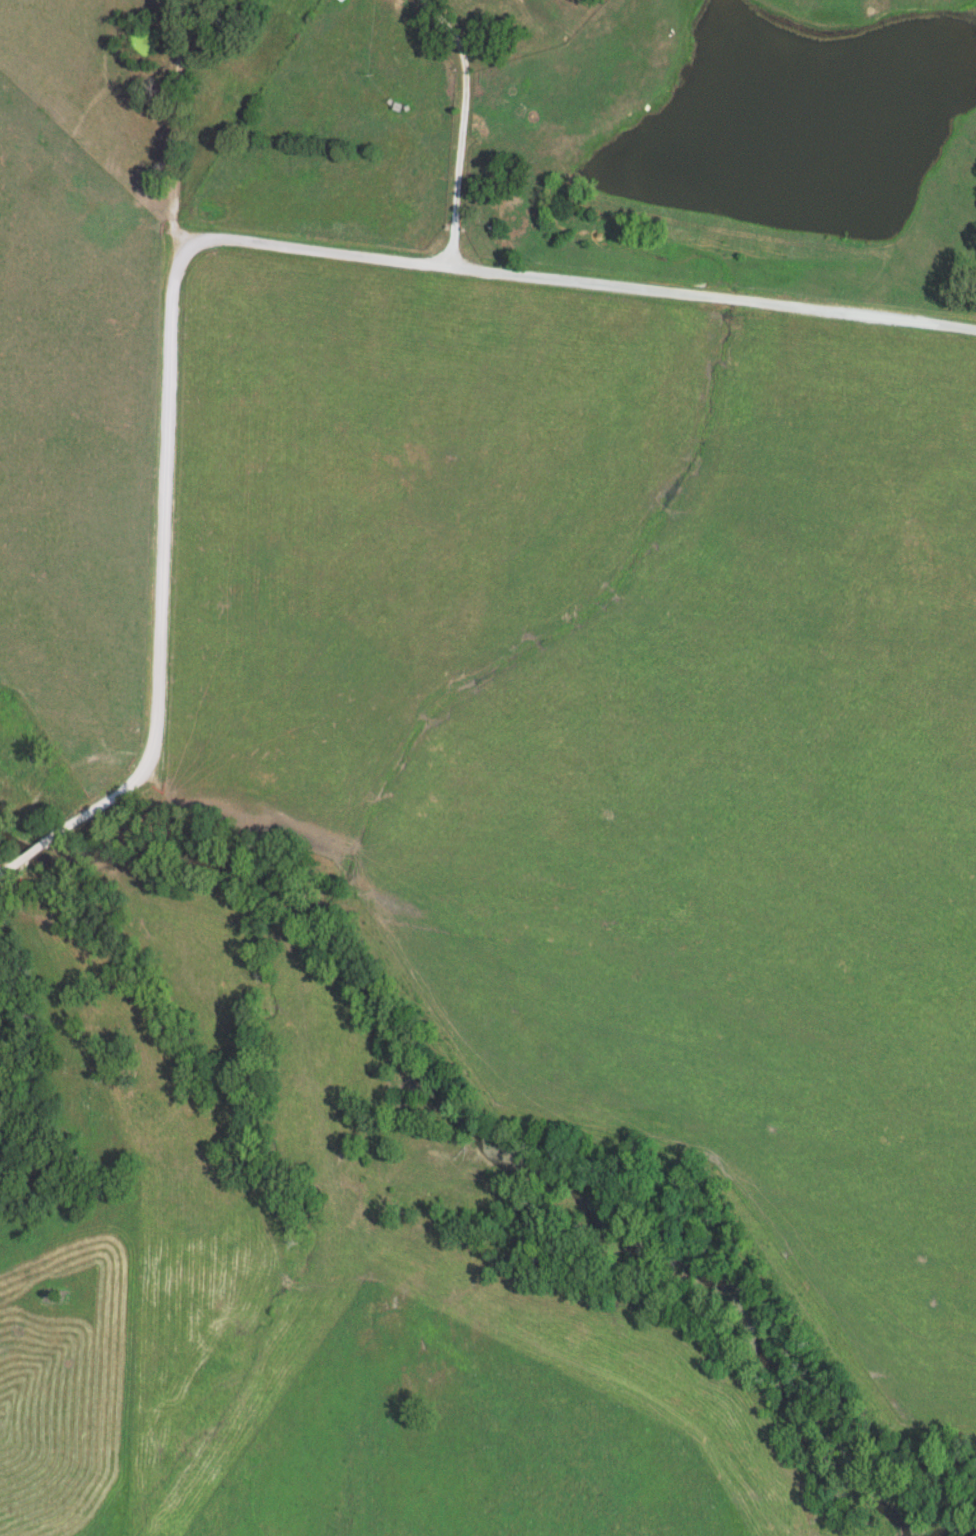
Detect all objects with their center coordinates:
road: (464, 126)
road: (232, 235)

